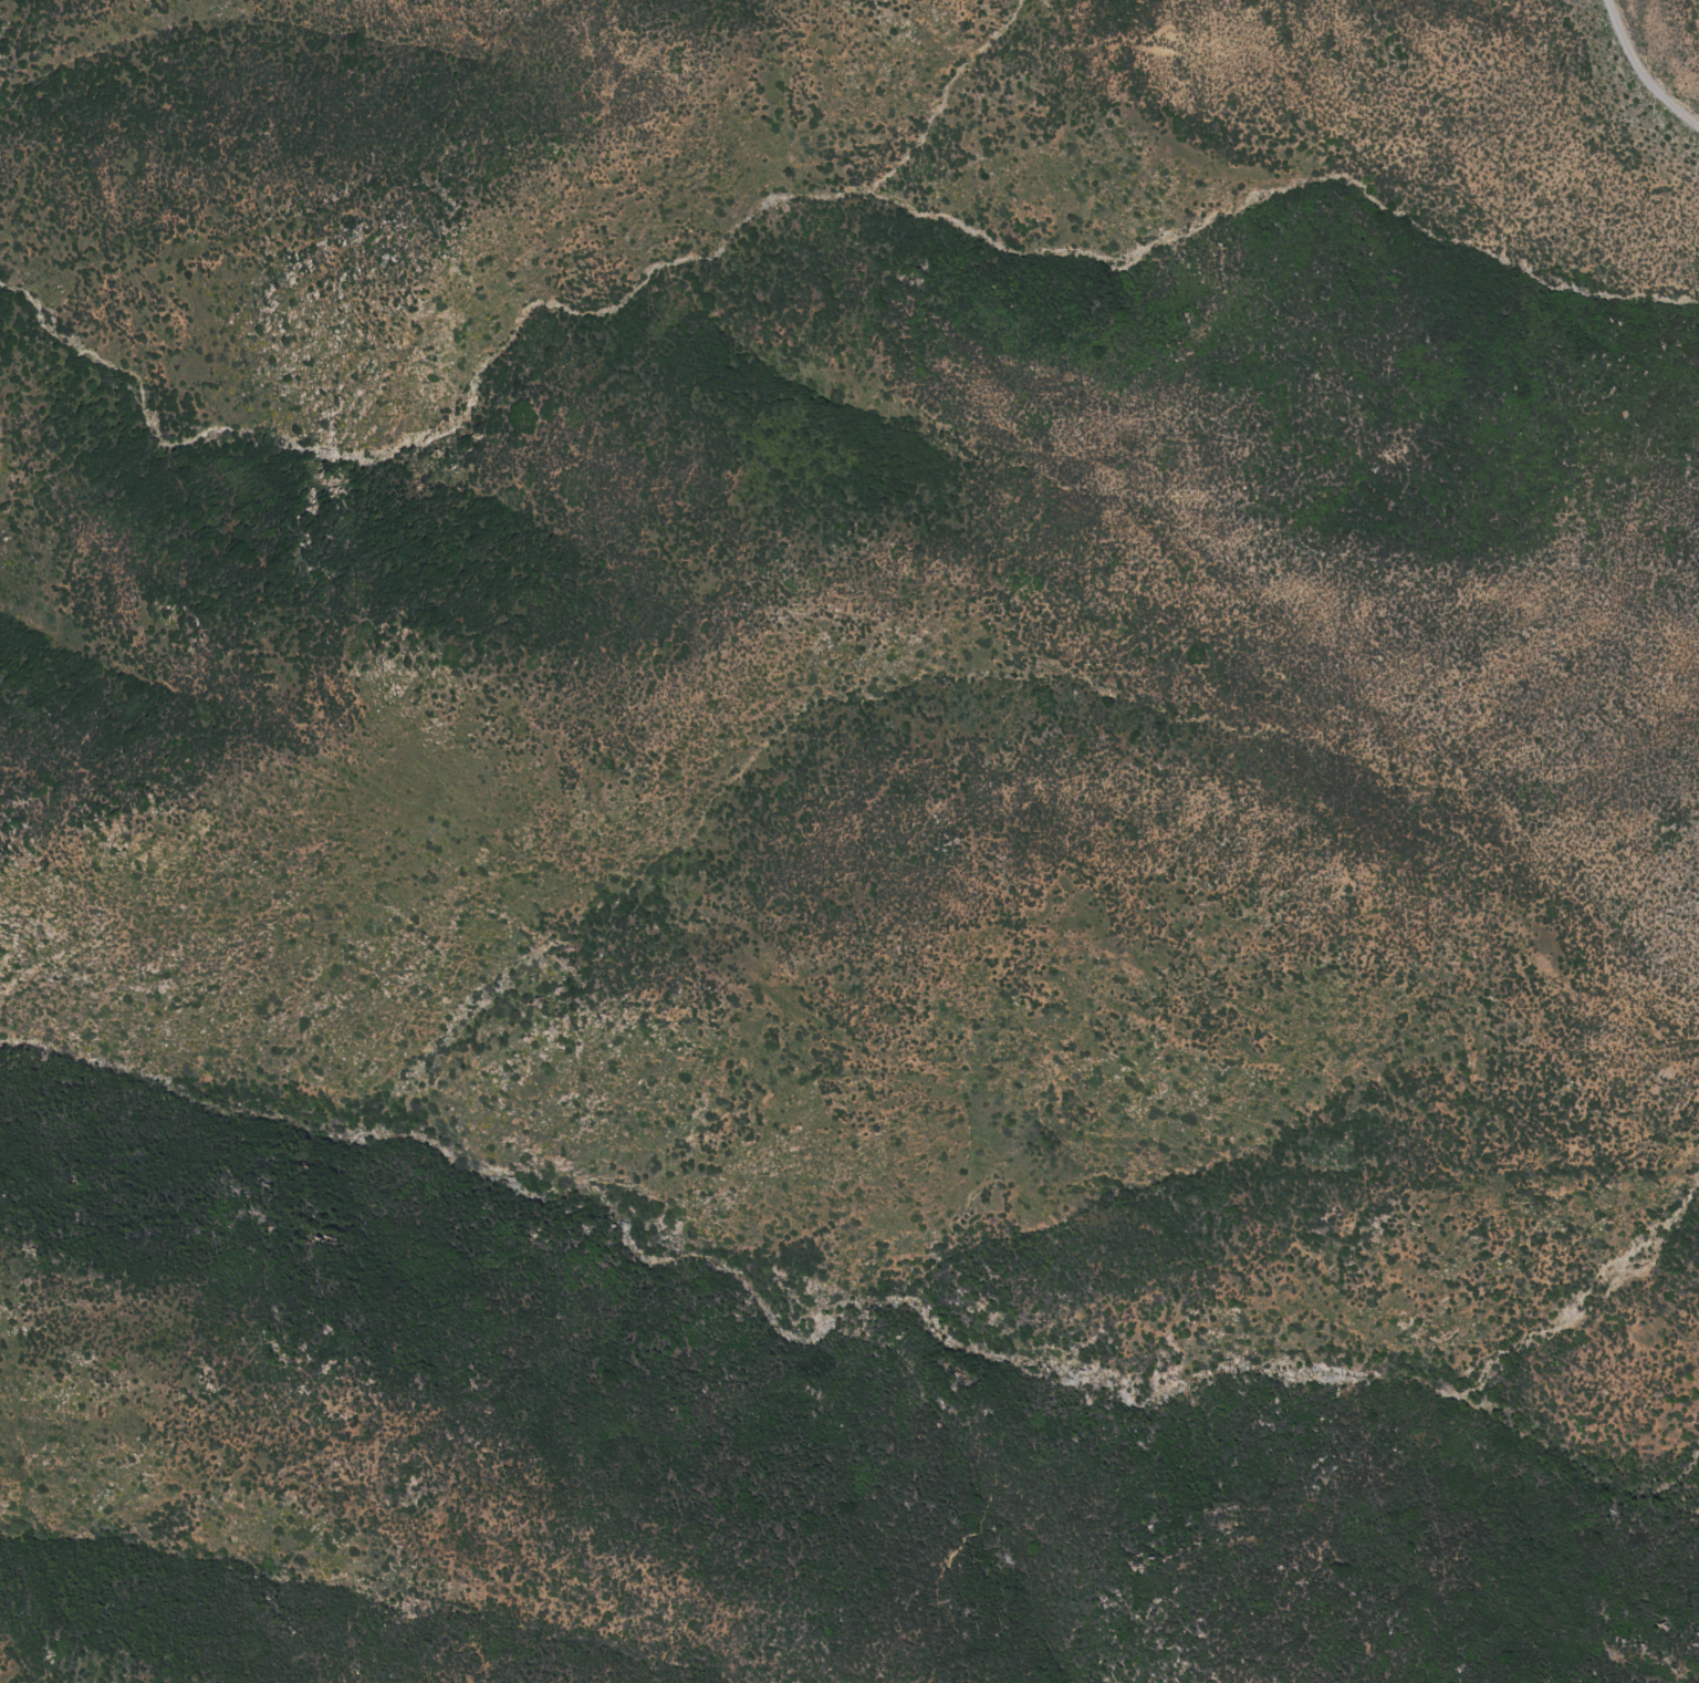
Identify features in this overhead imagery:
road: (1644, 70)

